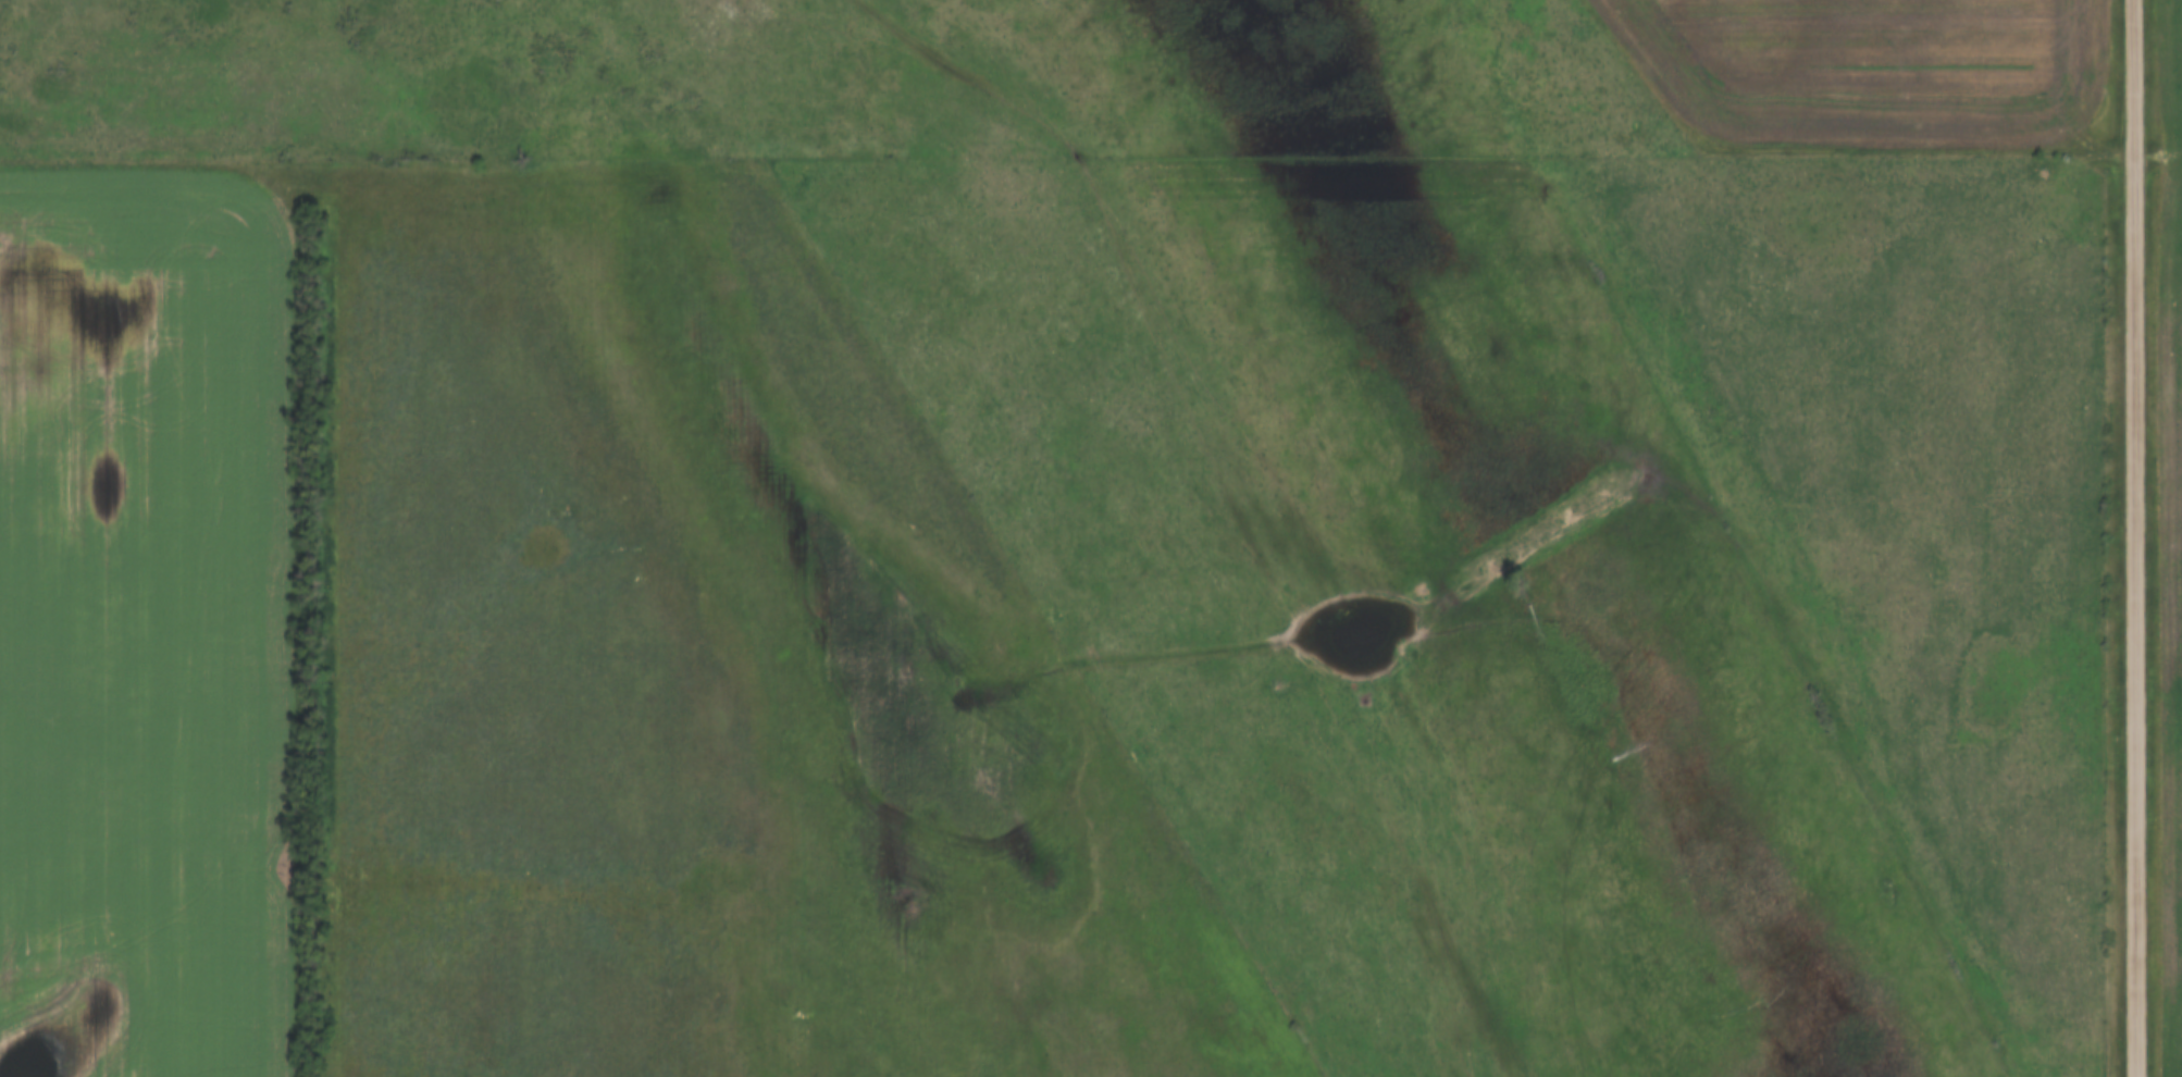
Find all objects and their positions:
road: (2136, 537)

